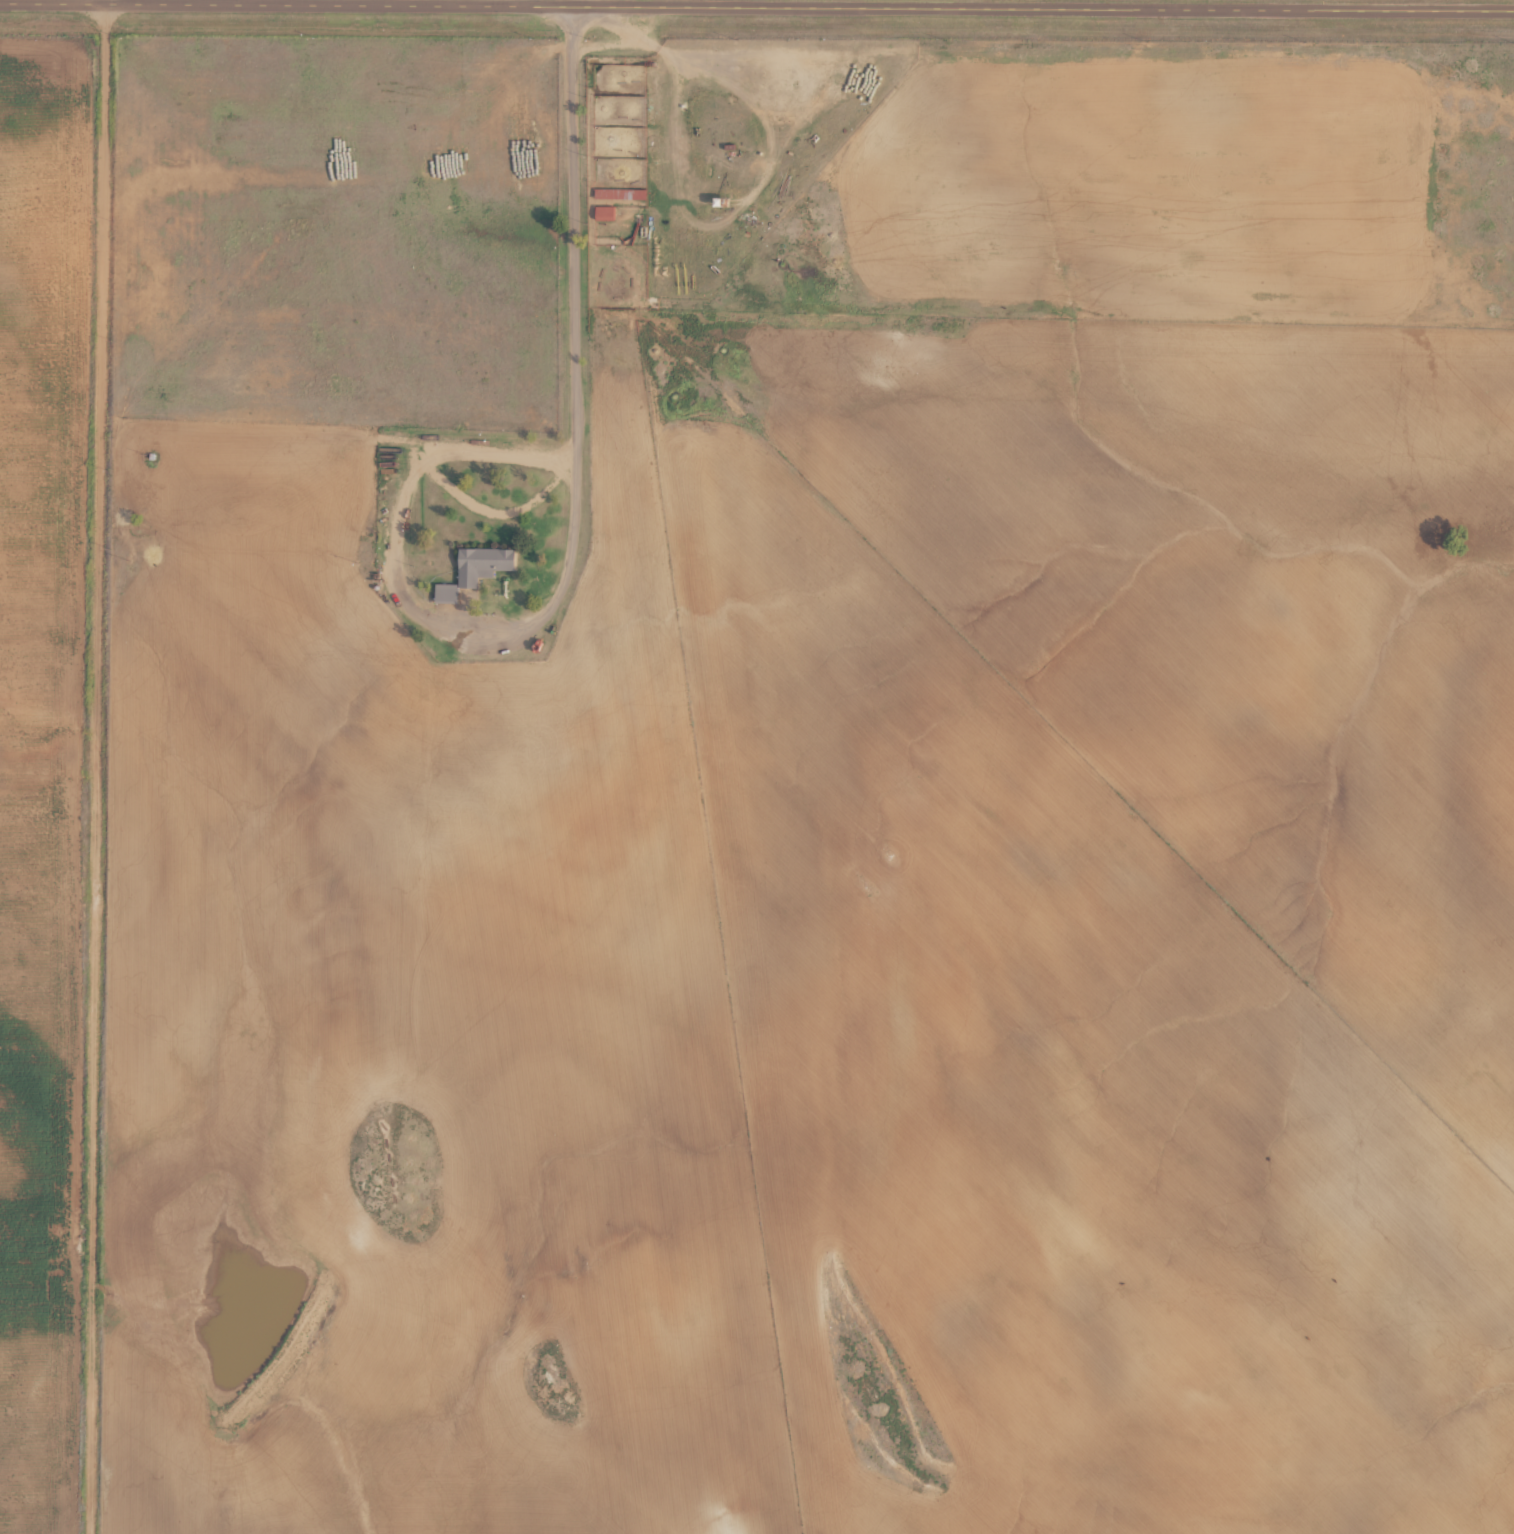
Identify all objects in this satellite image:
road: (756, 2)
road: (1190, 105)
building: (624, 195)
building: (608, 214)
building: (481, 571)
road: (101, 766)
road: (799, 911)

